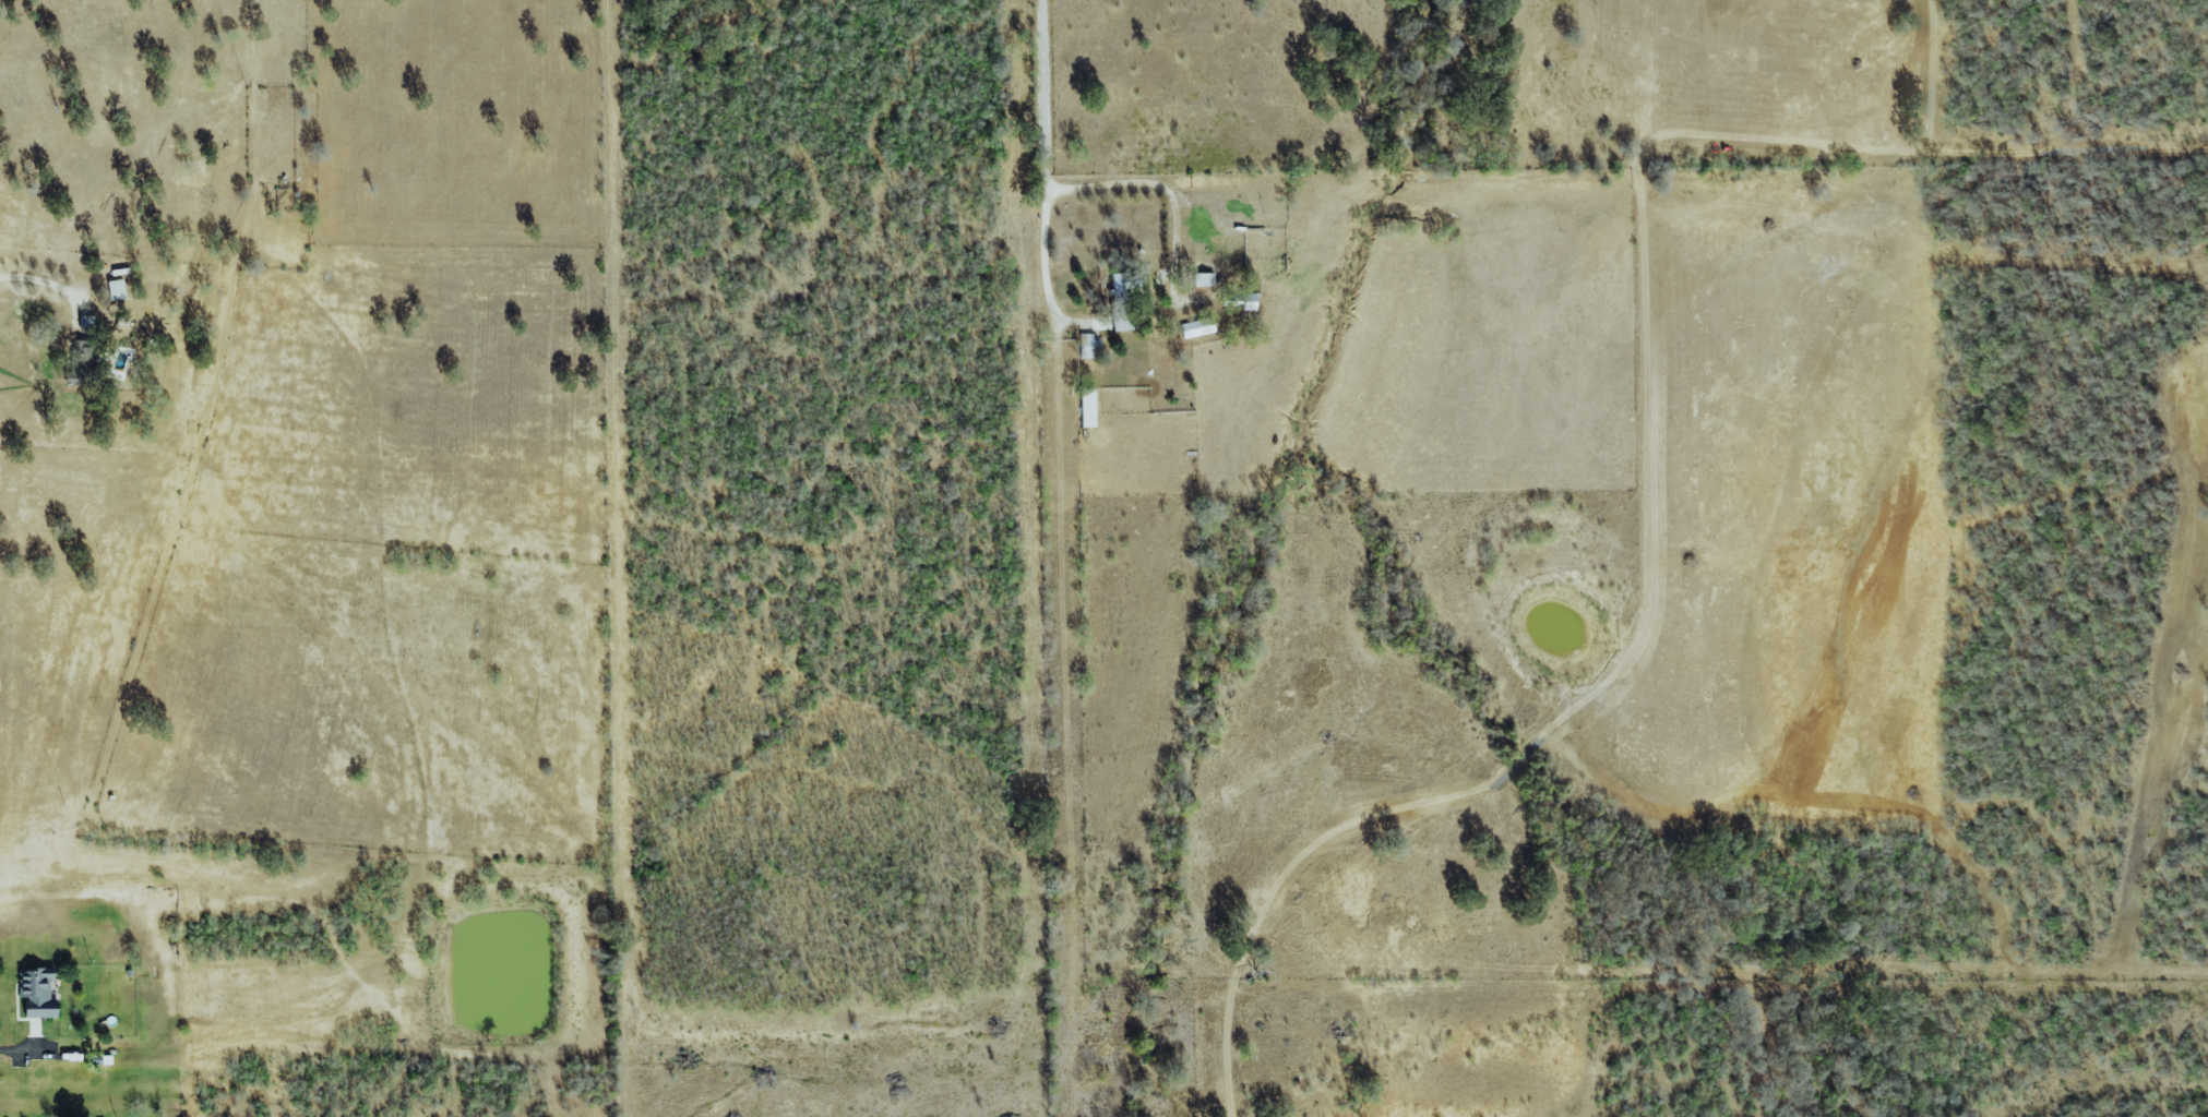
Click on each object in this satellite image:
road: (1045, 93)
road: (1142, 191)
road: (1047, 263)
building: (1203, 279)
road: (38, 280)
building: (117, 289)
building: (1240, 302)
building: (87, 324)
building: (1196, 327)
building: (1088, 346)
building: (82, 363)
building: (37, 993)
road: (13, 1048)

